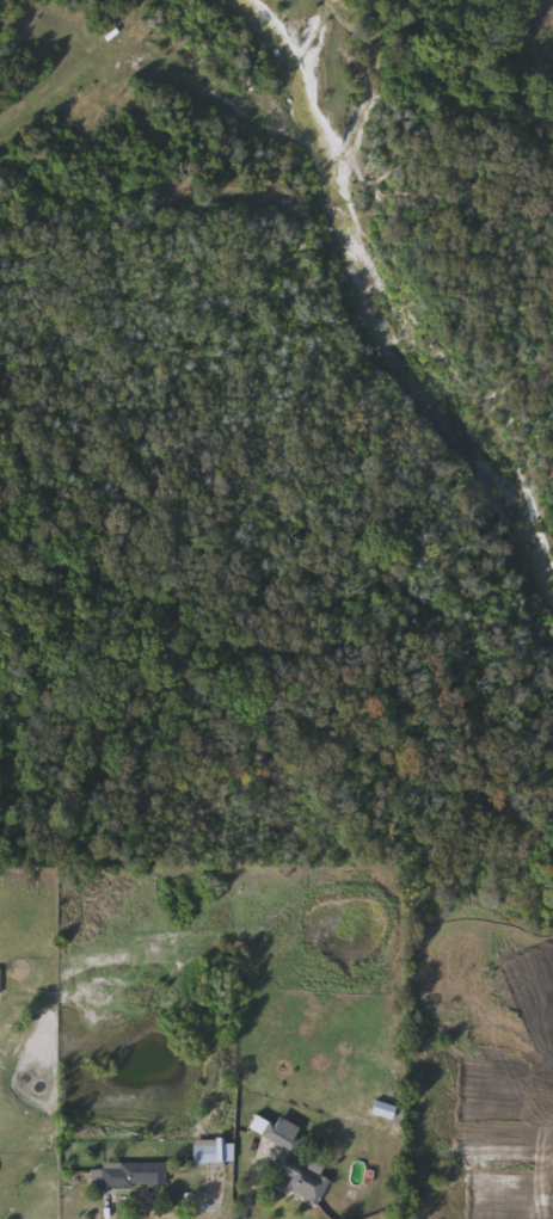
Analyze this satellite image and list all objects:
building: (382, 1110)
building: (214, 1151)
building: (291, 1159)
building: (134, 1175)
road: (252, 1189)

